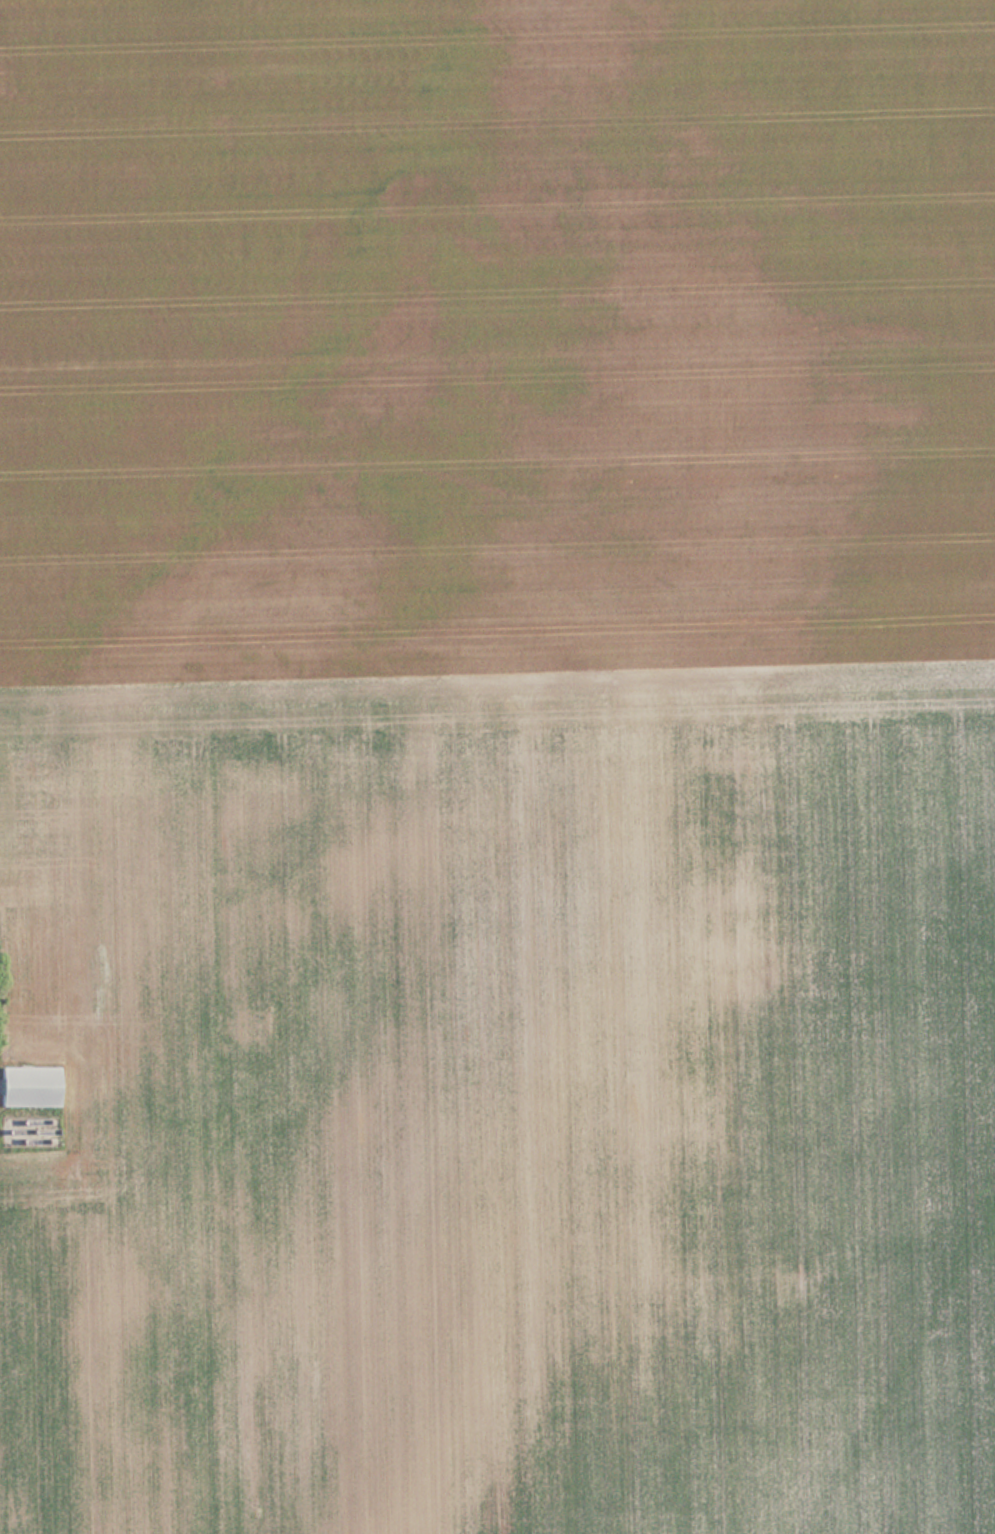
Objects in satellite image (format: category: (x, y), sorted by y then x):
building: (29, 1086)

